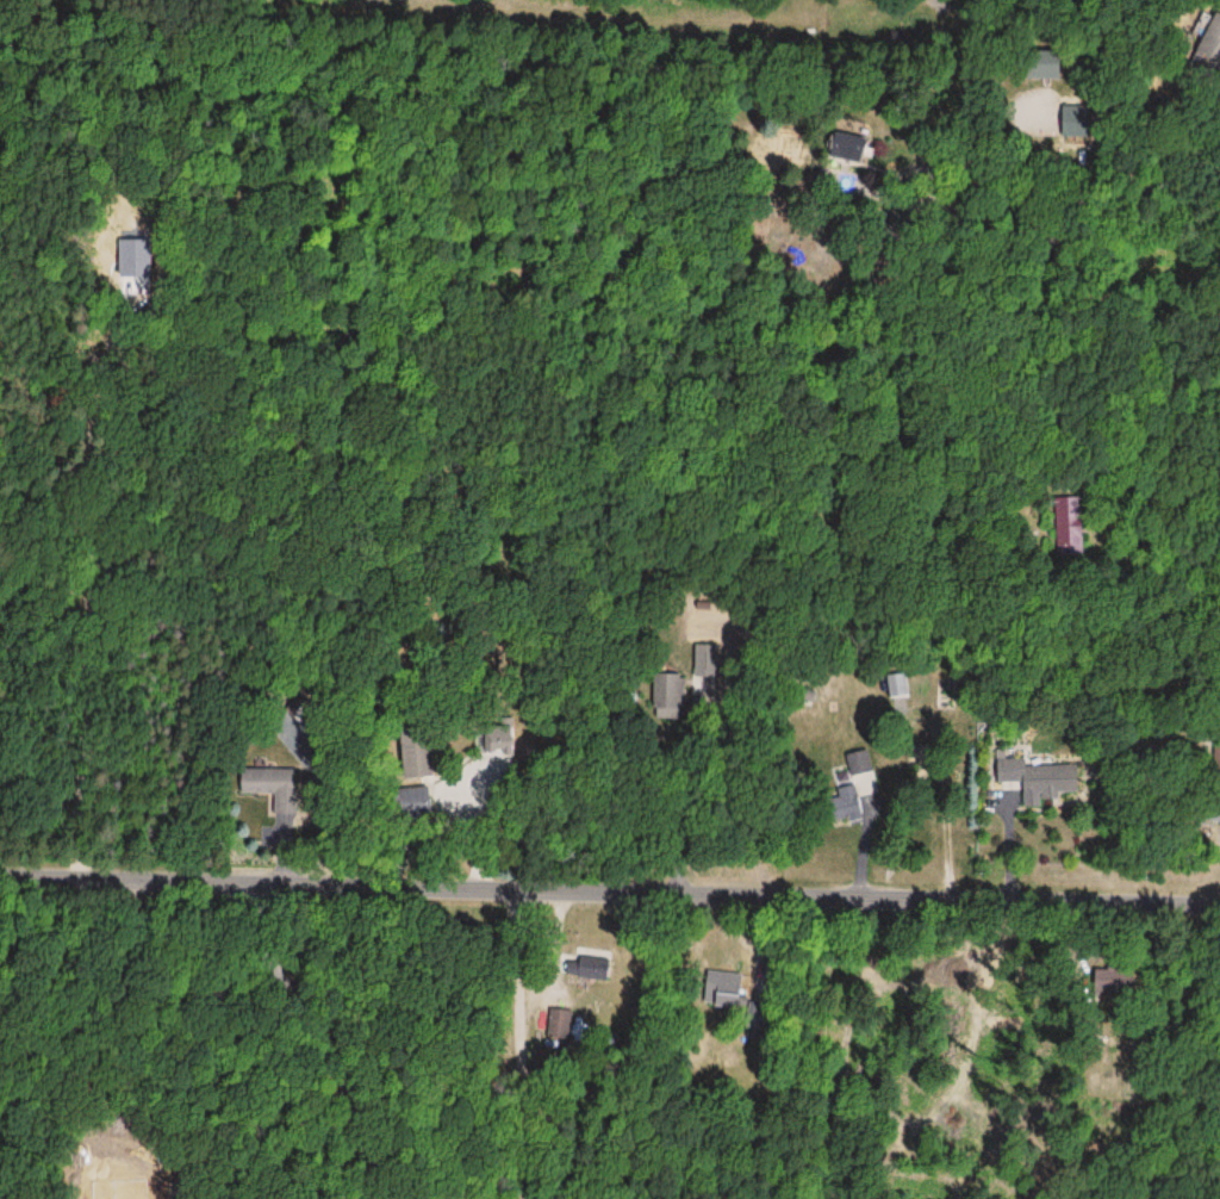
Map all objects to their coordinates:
building: (1208, 35)
building: (1040, 64)
road: (1069, 182)
building: (704, 654)
building: (668, 696)
building: (416, 759)
building: (857, 763)
building: (1219, 763)
building: (1035, 779)
building: (270, 788)
building: (841, 806)
road: (610, 875)
building: (585, 965)
building: (1113, 980)
building: (552, 1021)

